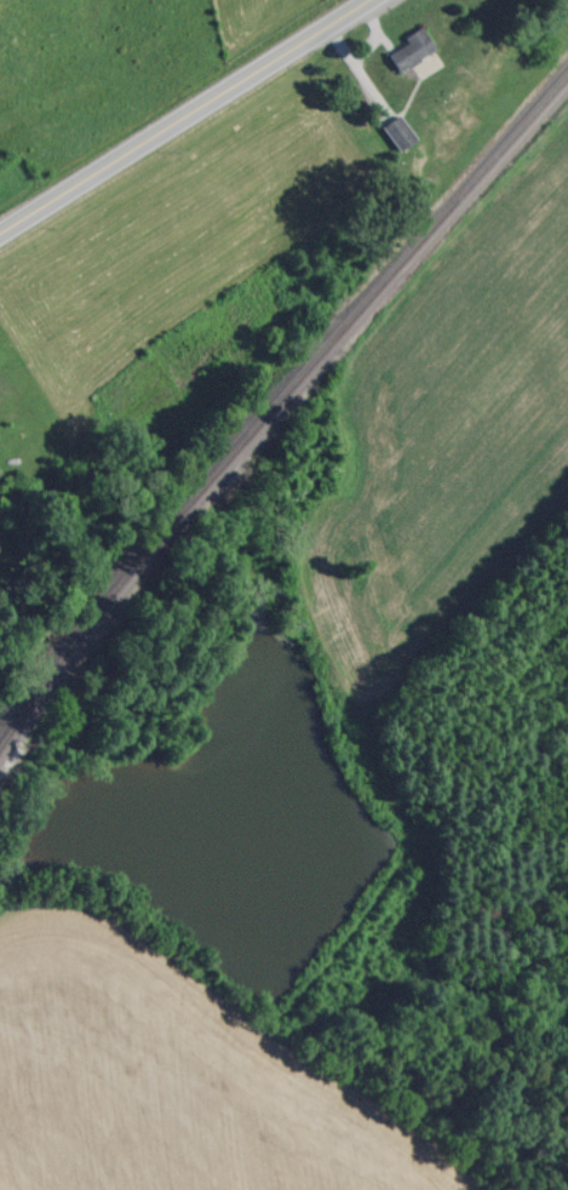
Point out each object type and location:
building: (563, 4)
building: (407, 47)
road: (183, 116)
building: (394, 130)
railway: (274, 402)

